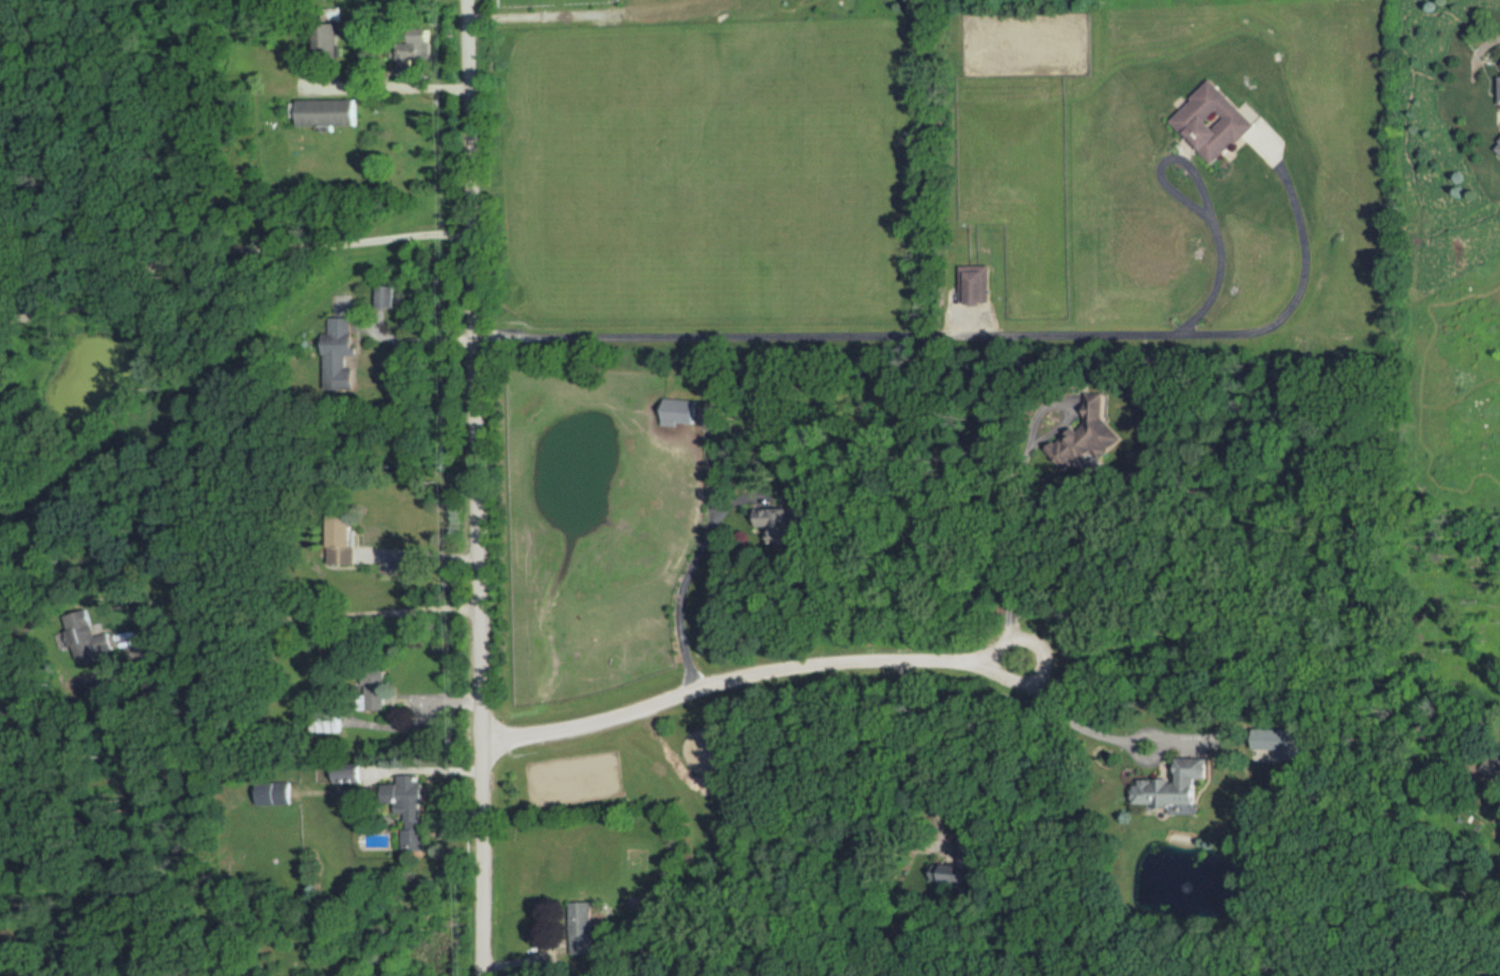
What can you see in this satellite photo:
building: (329, 41)
building: (416, 50)
road: (389, 88)
building: (327, 113)
building: (1213, 123)
road: (229, 248)
road: (1303, 272)
building: (974, 285)
building: (385, 292)
road: (361, 323)
road: (975, 337)
road: (416, 339)
building: (340, 350)
building: (679, 412)
road: (477, 487)
building: (779, 524)
building: (342, 536)
road: (1011, 539)
road: (421, 555)
road: (686, 570)
road: (302, 617)
building: (88, 631)
road: (122, 668)
road: (747, 672)
building: (373, 684)
road: (417, 699)
building: (327, 719)
road: (416, 720)
road: (1073, 723)
road: (916, 755)
road: (383, 769)
building: (350, 770)
road: (372, 770)
building: (1177, 785)
building: (275, 790)
building: (409, 806)
building: (576, 938)

